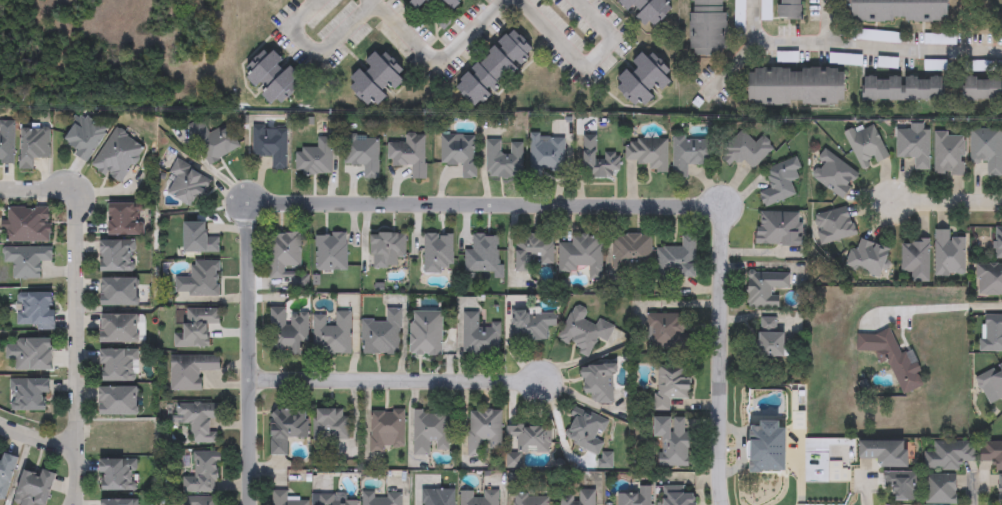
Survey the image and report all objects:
building: (454, 1)
building: (423, 4)
building: (791, 9)
building: (902, 10)
building: (649, 11)
building: (740, 13)
building: (708, 27)
road: (476, 29)
road: (411, 33)
road: (863, 42)
road: (324, 59)
road: (587, 61)
road: (735, 65)
building: (495, 68)
building: (275, 78)
building: (375, 79)
building: (642, 81)
building: (798, 86)
building: (984, 88)
building: (906, 89)
building: (86, 137)
building: (215, 141)
building: (7, 142)
building: (271, 145)
building: (34, 146)
building: (868, 146)
building: (915, 146)
building: (988, 148)
building: (747, 150)
building: (460, 153)
building: (546, 153)
building: (648, 153)
building: (692, 153)
building: (950, 154)
building: (362, 155)
building: (410, 155)
building: (118, 156)
building: (314, 159)
building: (504, 160)
building: (599, 160)
building: (835, 175)
building: (781, 182)
building: (187, 184)
road: (36, 189)
road: (947, 202)
road: (632, 204)
building: (126, 219)
building: (29, 225)
building: (834, 226)
building: (780, 229)
building: (200, 239)
building: (998, 244)
building: (387, 249)
building: (533, 251)
building: (331, 252)
building: (283, 254)
building: (438, 254)
building: (482, 254)
building: (632, 255)
building: (949, 255)
building: (119, 256)
building: (581, 257)
building: (869, 259)
building: (676, 260)
building: (916, 260)
building: (27, 261)
building: (200, 280)
building: (989, 280)
building: (766, 289)
building: (121, 292)
road: (942, 308)
building: (37, 310)
building: (533, 325)
building: (197, 328)
building: (121, 329)
building: (584, 331)
building: (665, 331)
building: (287, 333)
building: (991, 333)
building: (332, 335)
building: (382, 335)
building: (426, 336)
building: (480, 336)
building: (772, 337)
road: (73, 347)
road: (250, 354)
building: (34, 355)
building: (894, 359)
building: (121, 365)
building: (192, 371)
road: (398, 378)
building: (991, 382)
building: (599, 383)
building: (671, 386)
building: (30, 395)
building: (119, 401)
building: (200, 421)
building: (333, 425)
building: (286, 430)
building: (388, 430)
building: (431, 432)
building: (484, 433)
road: (35, 436)
building: (590, 436)
building: (529, 438)
building: (672, 440)
building: (770, 446)
building: (887, 452)
building: (992, 453)
building: (949, 454)
building: (7, 472)
building: (203, 473)
building: (120, 475)
building: (902, 484)
building: (35, 488)
building: (941, 489)
building: (1000, 490)
road: (865, 493)
building: (677, 496)
road: (983, 496)
building: (439, 497)
building: (634, 497)
building: (381, 498)
building: (478, 498)
building: (580, 498)
building: (286, 499)
building: (531, 499)
building: (335, 500)
building: (201, 501)
building: (119, 502)

